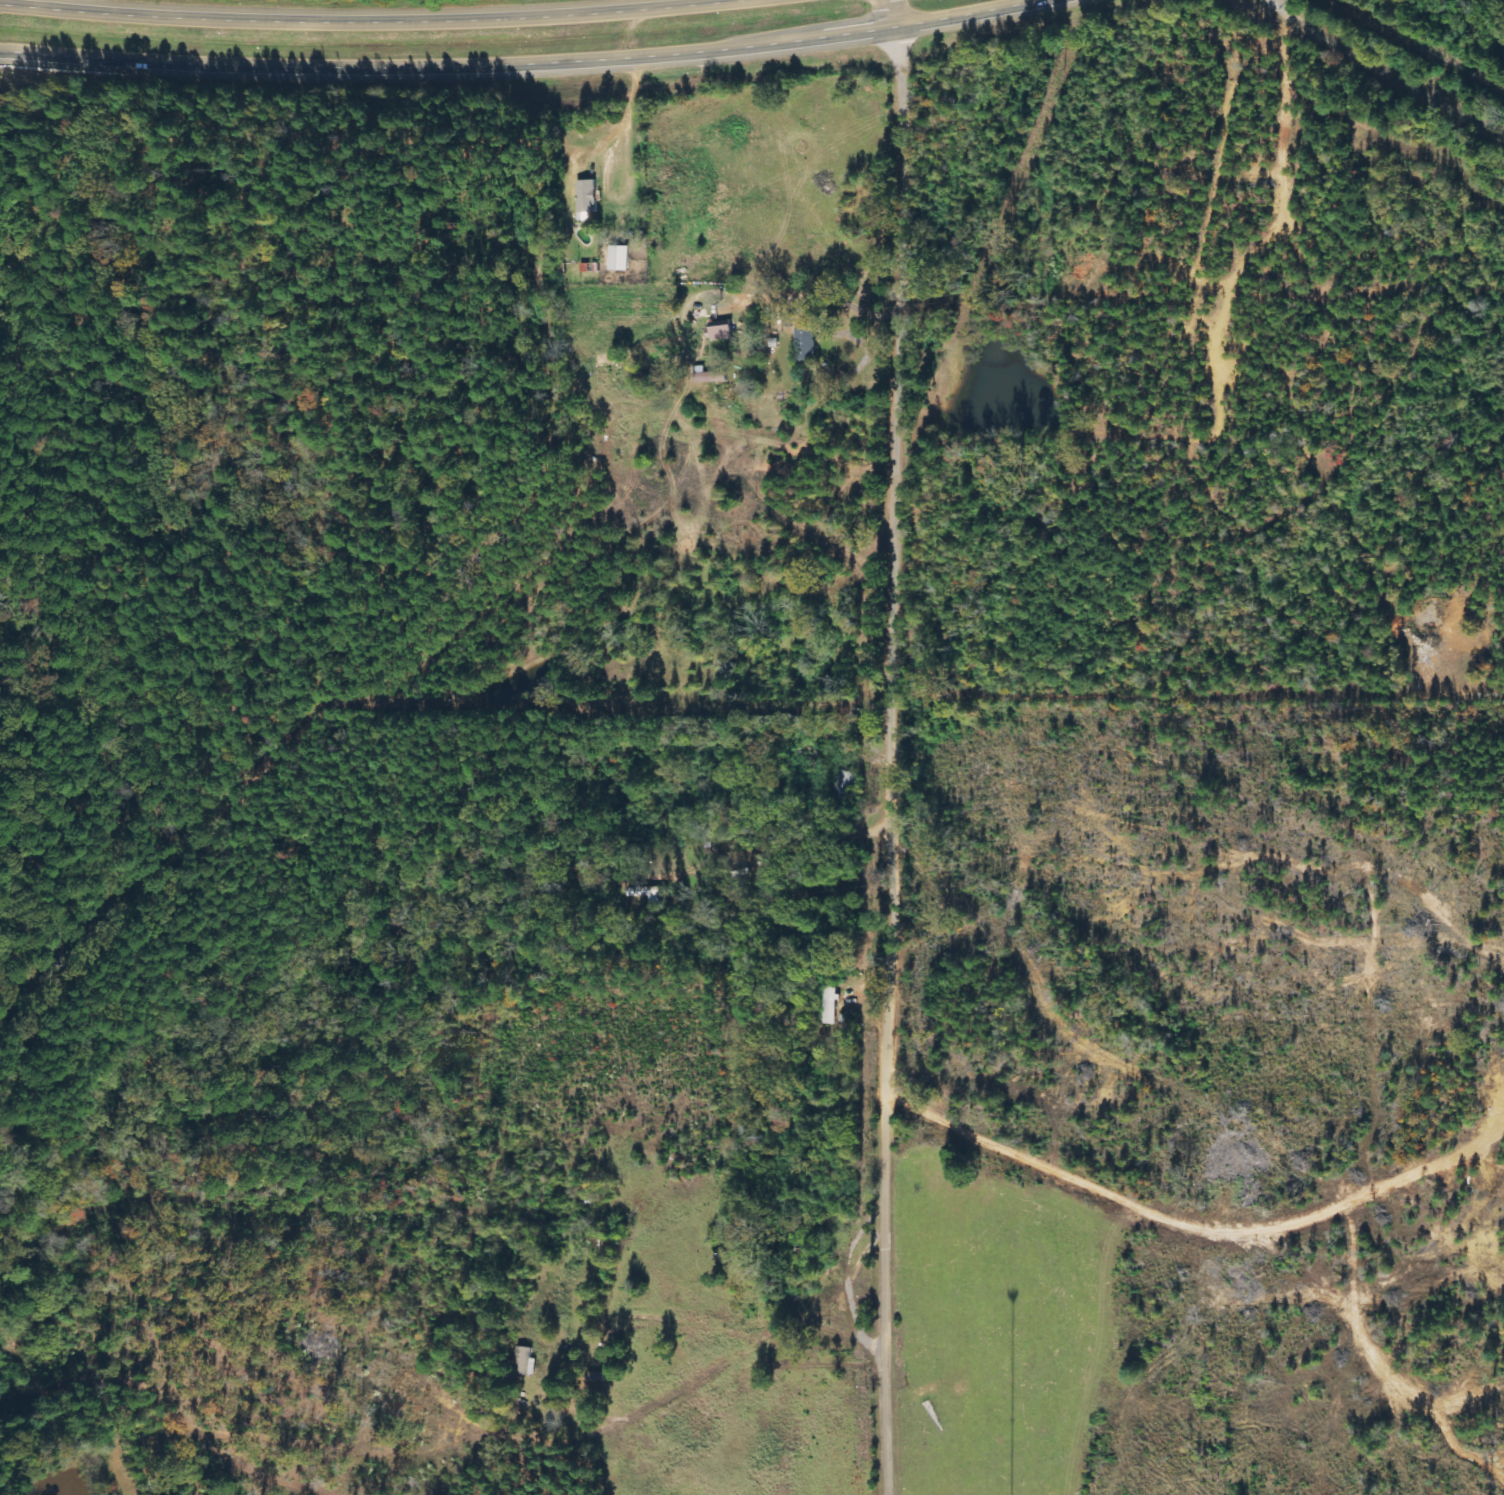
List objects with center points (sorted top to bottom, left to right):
road: (893, 13)
road: (366, 21)
road: (520, 62)
road: (1387, 71)
building: (590, 196)
building: (622, 258)
building: (725, 332)
building: (807, 344)
building: (607, 360)
building: (712, 376)
park: (245, 443)
road: (885, 760)
building: (645, 892)
building: (526, 1361)

